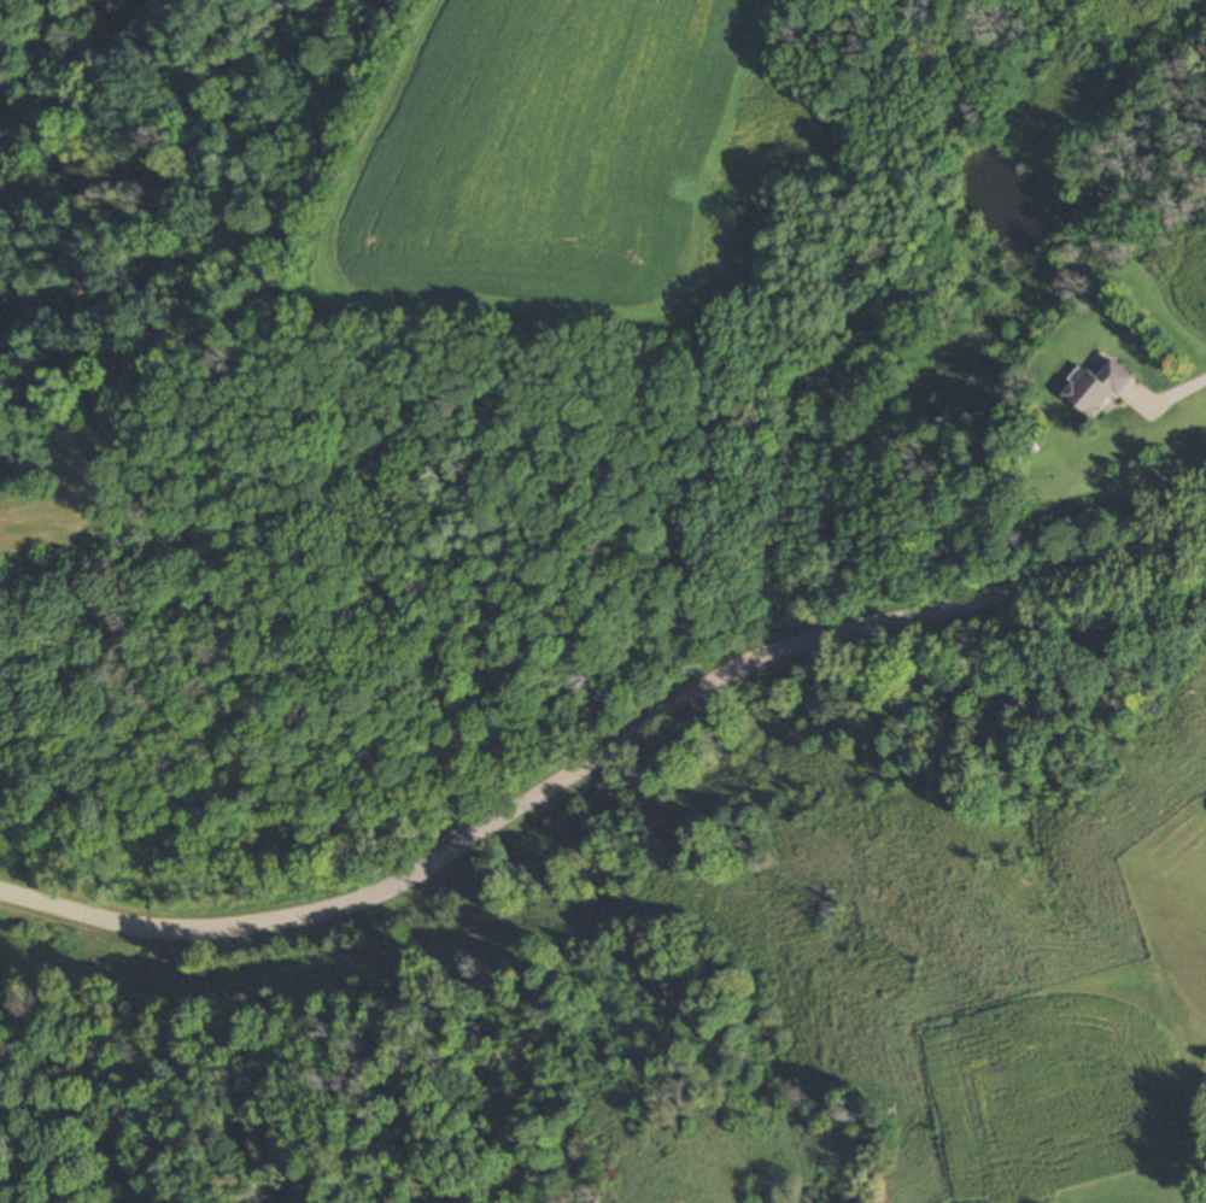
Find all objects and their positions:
building: (1097, 389)
road: (1166, 410)
road: (602, 751)

